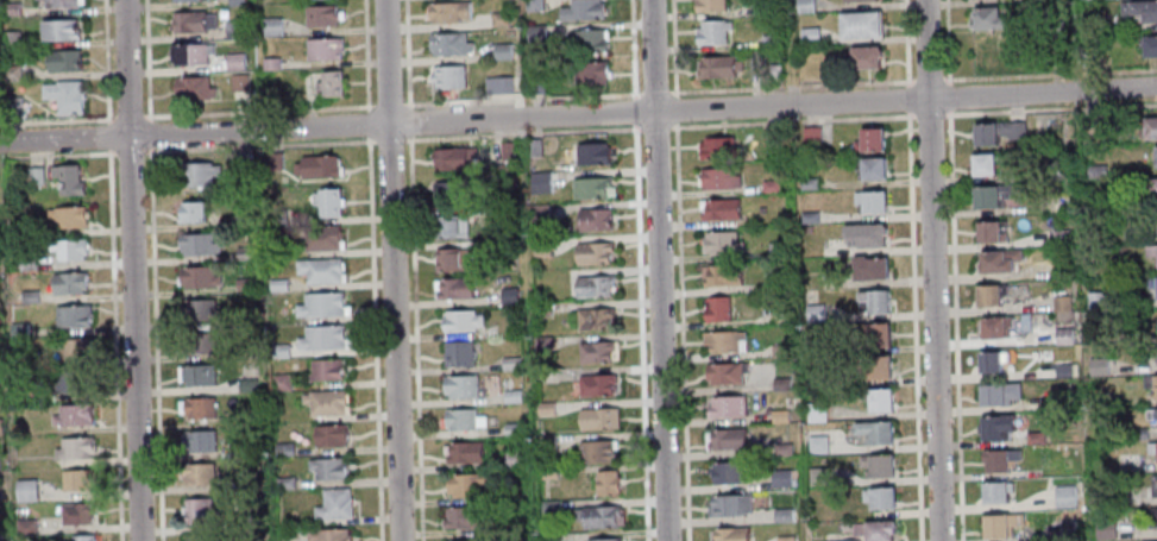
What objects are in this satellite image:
building: (184, 0)
building: (692, 0)
building: (854, 0)
building: (235, 2)
building: (59, 4)
building: (532, 5)
building: (708, 5)
building: (803, 6)
building: (762, 7)
building: (8, 8)
building: (1139, 8)
building: (581, 11)
building: (446, 12)
building: (320, 15)
building: (986, 15)
building: (498, 19)
building: (191, 21)
building: (1089, 21)
building: (1051, 23)
building: (859, 24)
building: (270, 27)
building: (57, 30)
building: (234, 30)
building: (711, 31)
building: (534, 34)
building: (809, 36)
building: (8, 39)
building: (585, 40)
building: (768, 42)
building: (447, 44)
building: (1149, 44)
road: (673, 48)
building: (322, 49)
road: (631, 49)
building: (501, 51)
building: (190, 54)
road: (407, 54)
building: (862, 56)
building: (1087, 56)
building: (62, 61)
building: (233, 62)
building: (269, 63)
building: (717, 67)
building: (586, 71)
building: (10, 73)
road: (1051, 73)
building: (773, 74)
building: (446, 76)
road: (928, 78)
building: (238, 82)
building: (328, 83)
building: (497, 86)
building: (535, 86)
road: (792, 86)
building: (193, 88)
road: (656, 93)
building: (63, 96)
road: (522, 99)
road: (389, 105)
building: (11, 106)
road: (675, 108)
road: (1051, 108)
road: (258, 111)
road: (634, 111)
road: (929, 114)
road: (578, 115)
road: (127, 117)
road: (56, 119)
road: (791, 120)
road: (409, 121)
road: (654, 126)
building: (1089, 126)
building: (1147, 126)
road: (522, 132)
building: (994, 132)
building: (810, 136)
building: (772, 138)
road: (389, 139)
building: (868, 139)
road: (260, 145)
building: (533, 147)
building: (717, 147)
road: (130, 151)
building: (505, 151)
road: (55, 153)
building: (589, 153)
building: (1155, 153)
building: (452, 158)
building: (272, 161)
building: (241, 162)
building: (981, 163)
building: (316, 166)
building: (869, 166)
building: (1056, 171)
building: (1095, 171)
building: (195, 174)
building: (32, 177)
building: (718, 178)
building: (67, 180)
building: (539, 182)
building: (807, 184)
building: (769, 187)
building: (591, 188)
building: (1150, 189)
building: (449, 190)
building: (991, 195)
building: (869, 200)
building: (327, 201)
building: (1095, 202)
building: (1058, 203)
building: (717, 208)
building: (190, 212)
building: (504, 212)
building: (537, 212)
building: (67, 216)
building: (807, 218)
building: (278, 219)
building: (1156, 219)
building: (240, 220)
building: (593, 220)
building: (449, 227)
building: (15, 231)
building: (988, 231)
building: (864, 234)
building: (321, 237)
building: (1059, 238)
building: (721, 241)
building: (196, 244)
building: (539, 247)
building: (68, 249)
building: (775, 250)
building: (1150, 251)
building: (592, 252)
building: (243, 253)
building: (449, 260)
building: (995, 260)
building: (504, 263)
building: (25, 264)
building: (869, 266)
building: (320, 269)
road: (113, 270)
road: (131, 270)
road: (153, 270)
road: (372, 270)
road: (391, 270)
road: (658, 270)
road: (931, 270)
building: (719, 275)
building: (197, 277)
building: (68, 283)
building: (244, 284)
building: (774, 284)
building: (1152, 284)
building: (277, 285)
building: (592, 285)
building: (454, 288)
building: (988, 294)
building: (507, 295)
building: (29, 296)
building: (1094, 300)
building: (870, 301)
building: (1059, 303)
building: (321, 306)
building: (716, 308)
building: (199, 310)
building: (540, 310)
building: (813, 313)
building: (71, 316)
building: (776, 317)
building: (593, 319)
building: (460, 321)
building: (1156, 325)
building: (993, 327)
building: (17, 329)
road: (681, 331)
road: (641, 332)
building: (878, 334)
building: (1062, 335)
building: (322, 338)
road: (415, 338)
building: (723, 341)
building: (197, 342)
building: (540, 342)
building: (812, 346)
building: (71, 347)
building: (1151, 350)
building: (278, 351)
building: (595, 351)
building: (779, 351)
building: (246, 353)
building: (455, 353)
building: (987, 360)
building: (509, 364)
building: (1096, 365)
building: (878, 366)
building: (326, 370)
building: (1062, 371)
building: (724, 372)
building: (197, 375)
building: (824, 378)
building: (70, 380)
building: (281, 382)
building: (1150, 383)
building: (595, 384)
building: (780, 384)
building: (245, 385)
building: (459, 385)
building: (995, 394)
building: (510, 397)
building: (875, 398)
building: (1062, 400)
building: (325, 402)
building: (725, 405)
building: (197, 407)
building: (543, 408)
building: (815, 411)
building: (1151, 413)
building: (71, 415)
building: (778, 416)
building: (458, 419)
building: (597, 419)
building: (994, 427)
building: (511, 429)
building: (0, 430)
building: (874, 432)
building: (1136, 433)
building: (329, 434)
building: (1033, 438)
building: (727, 439)
building: (197, 440)
building: (542, 442)
building: (816, 445)
building: (74, 447)
building: (1151, 448)
building: (283, 449)
building: (781, 449)
building: (595, 451)
building: (464, 453)
building: (998, 459)
building: (511, 460)
building: (876, 465)
building: (328, 468)
building: (724, 472)
building: (196, 473)
building: (547, 473)
building: (817, 476)
building: (780, 478)
building: (75, 480)
building: (283, 483)
building: (605, 483)
building: (465, 484)
building: (1152, 484)
building: (25, 490)
building: (994, 491)
building: (1062, 496)
building: (878, 497)
building: (238, 504)
building: (333, 504)
building: (728, 505)
building: (547, 507)
building: (197, 510)
building: (75, 514)
building: (781, 515)
building: (596, 516)
building: (1151, 516)
building: (463, 517)
building: (998, 523)
building: (24, 527)
building: (874, 529)
building: (1067, 529)
building: (0, 534)
building: (730, 534)
building: (328, 535)
building: (548, 536)
building: (81, 537)
building: (199, 539)
building: (784, 539)
building: (478, 540)
building: (603, 540)
building: (845, 540)
building: (1150, 540)

